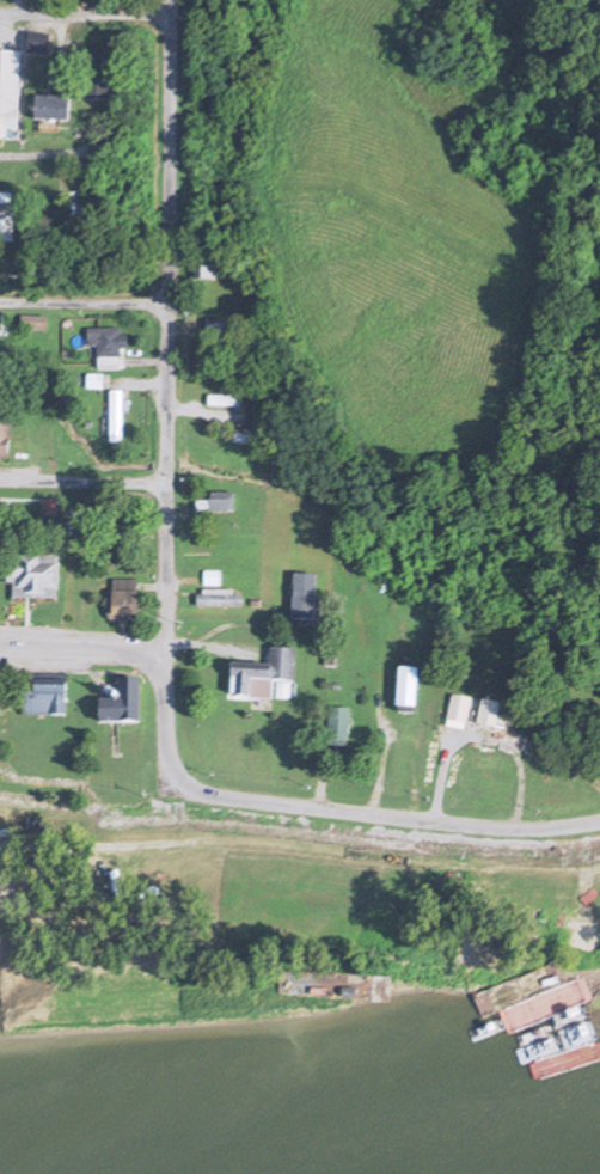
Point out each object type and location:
building: (200, 5)
road: (17, 7)
road: (84, 14)
road: (59, 32)
road: (2, 36)
building: (35, 36)
building: (97, 68)
building: (53, 99)
building: (10, 104)
road: (92, 126)
road: (41, 152)
building: (75, 204)
building: (68, 218)
building: (4, 232)
road: (167, 241)
building: (204, 275)
road: (84, 300)
building: (228, 324)
building: (32, 325)
road: (180, 328)
building: (220, 334)
building: (2, 337)
building: (105, 341)
road: (148, 356)
building: (228, 366)
road: (143, 375)
building: (97, 383)
building: (227, 397)
building: (226, 403)
road: (201, 409)
building: (114, 412)
building: (2, 432)
building: (245, 440)
road: (81, 482)
building: (213, 500)
road: (179, 513)
road: (164, 567)
road: (180, 577)
building: (210, 580)
building: (30, 582)
building: (219, 594)
building: (121, 597)
road: (128, 637)
road: (210, 641)
road: (80, 649)
building: (265, 667)
building: (409, 683)
building: (38, 690)
building: (281, 691)
building: (4, 692)
building: (118, 705)
building: (489, 708)
building: (455, 711)
road: (164, 717)
building: (336, 720)
road: (486, 733)
road: (381, 766)
building: (598, 766)
road: (320, 783)
road: (388, 817)
road: (288, 845)
road: (105, 900)

